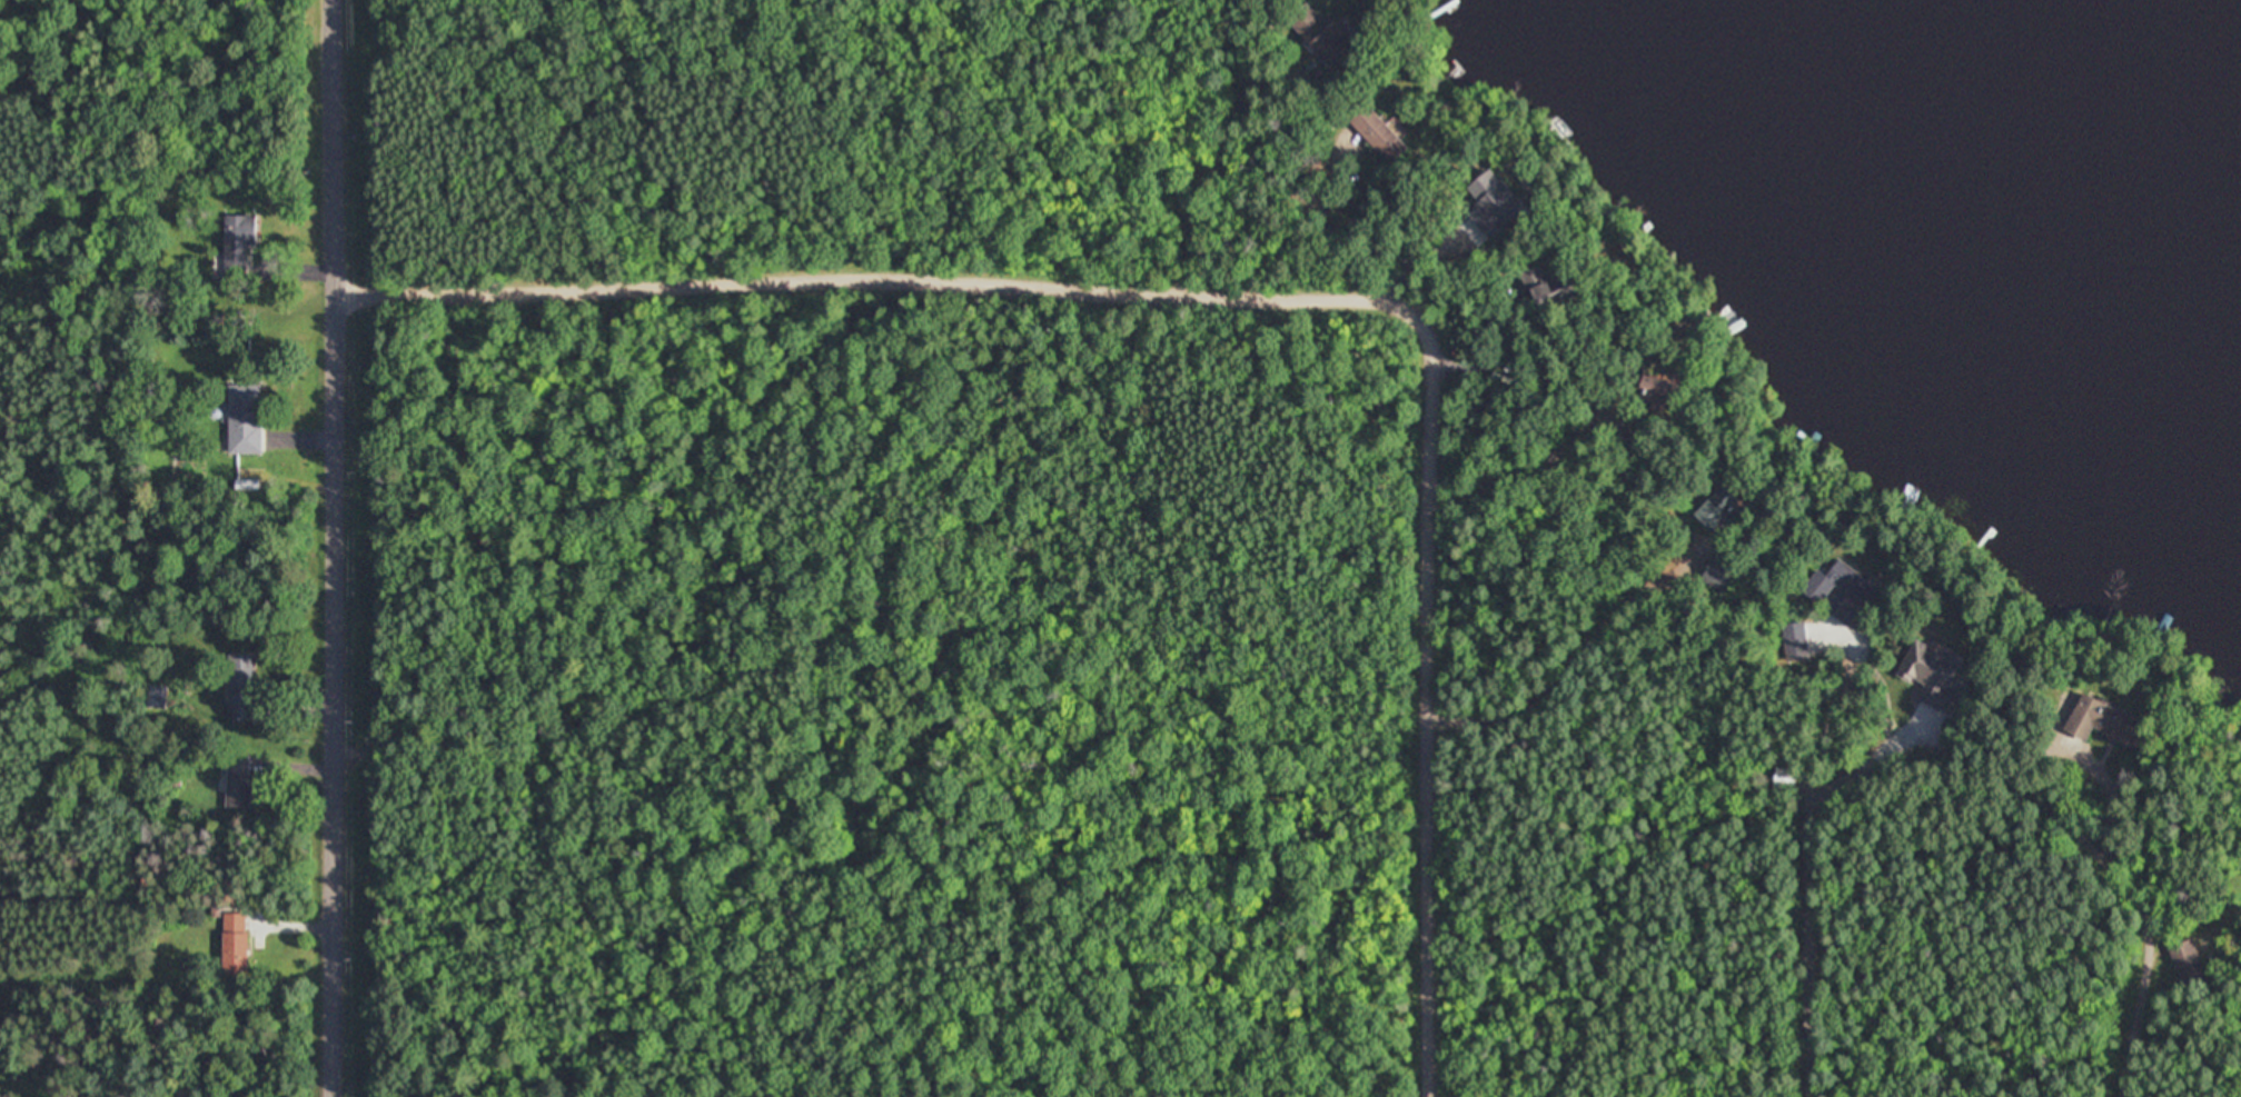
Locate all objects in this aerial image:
building: (1321, 36)
building: (1377, 133)
building: (235, 246)
building: (1550, 287)
road: (1276, 292)
building: (1658, 391)
building: (242, 419)
building: (1716, 508)
road: (339, 548)
building: (1719, 574)
building: (1844, 590)
building: (1930, 672)
building: (240, 686)
building: (157, 697)
building: (2102, 722)
building: (238, 781)
building: (234, 943)
building: (2187, 964)
road: (1807, 1004)
road: (2128, 1065)

